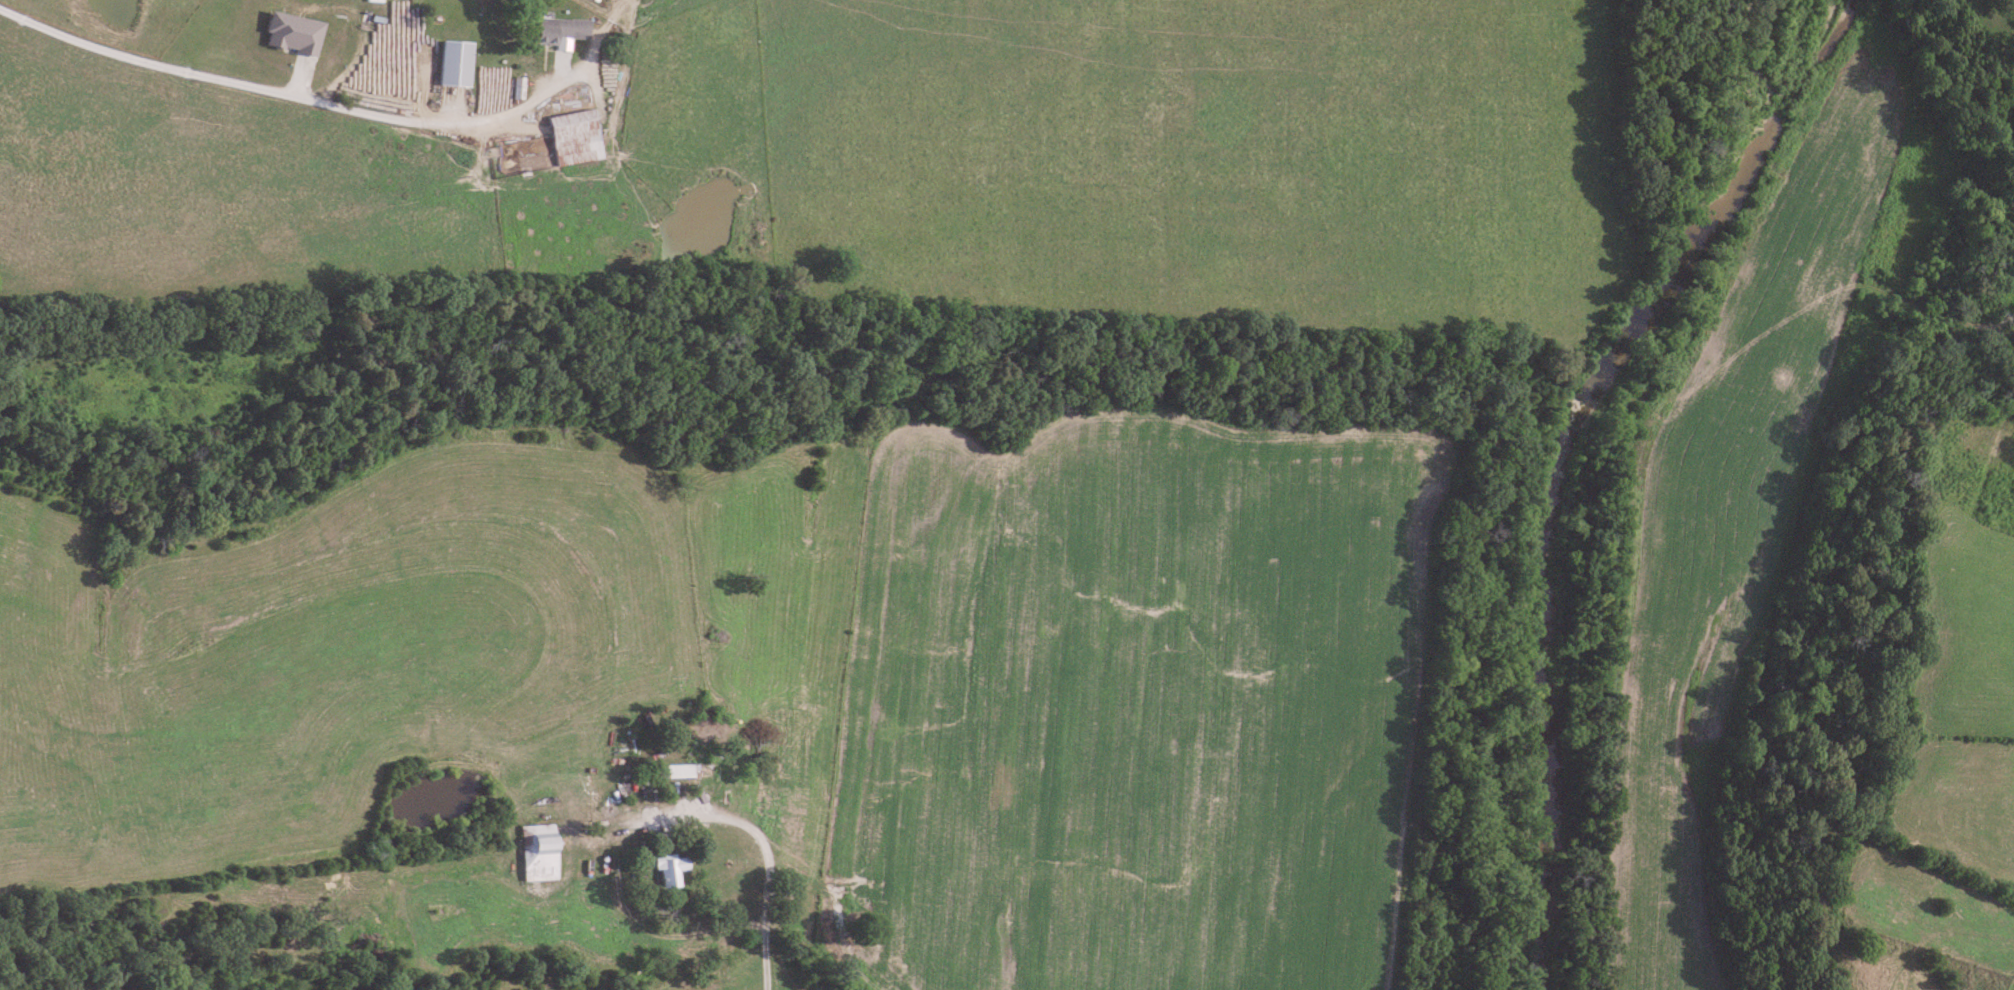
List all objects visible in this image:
building: (558, 31)
building: (450, 64)
road: (265, 73)
building: (572, 137)
building: (676, 770)
building: (534, 852)
road: (767, 856)
building: (663, 869)

